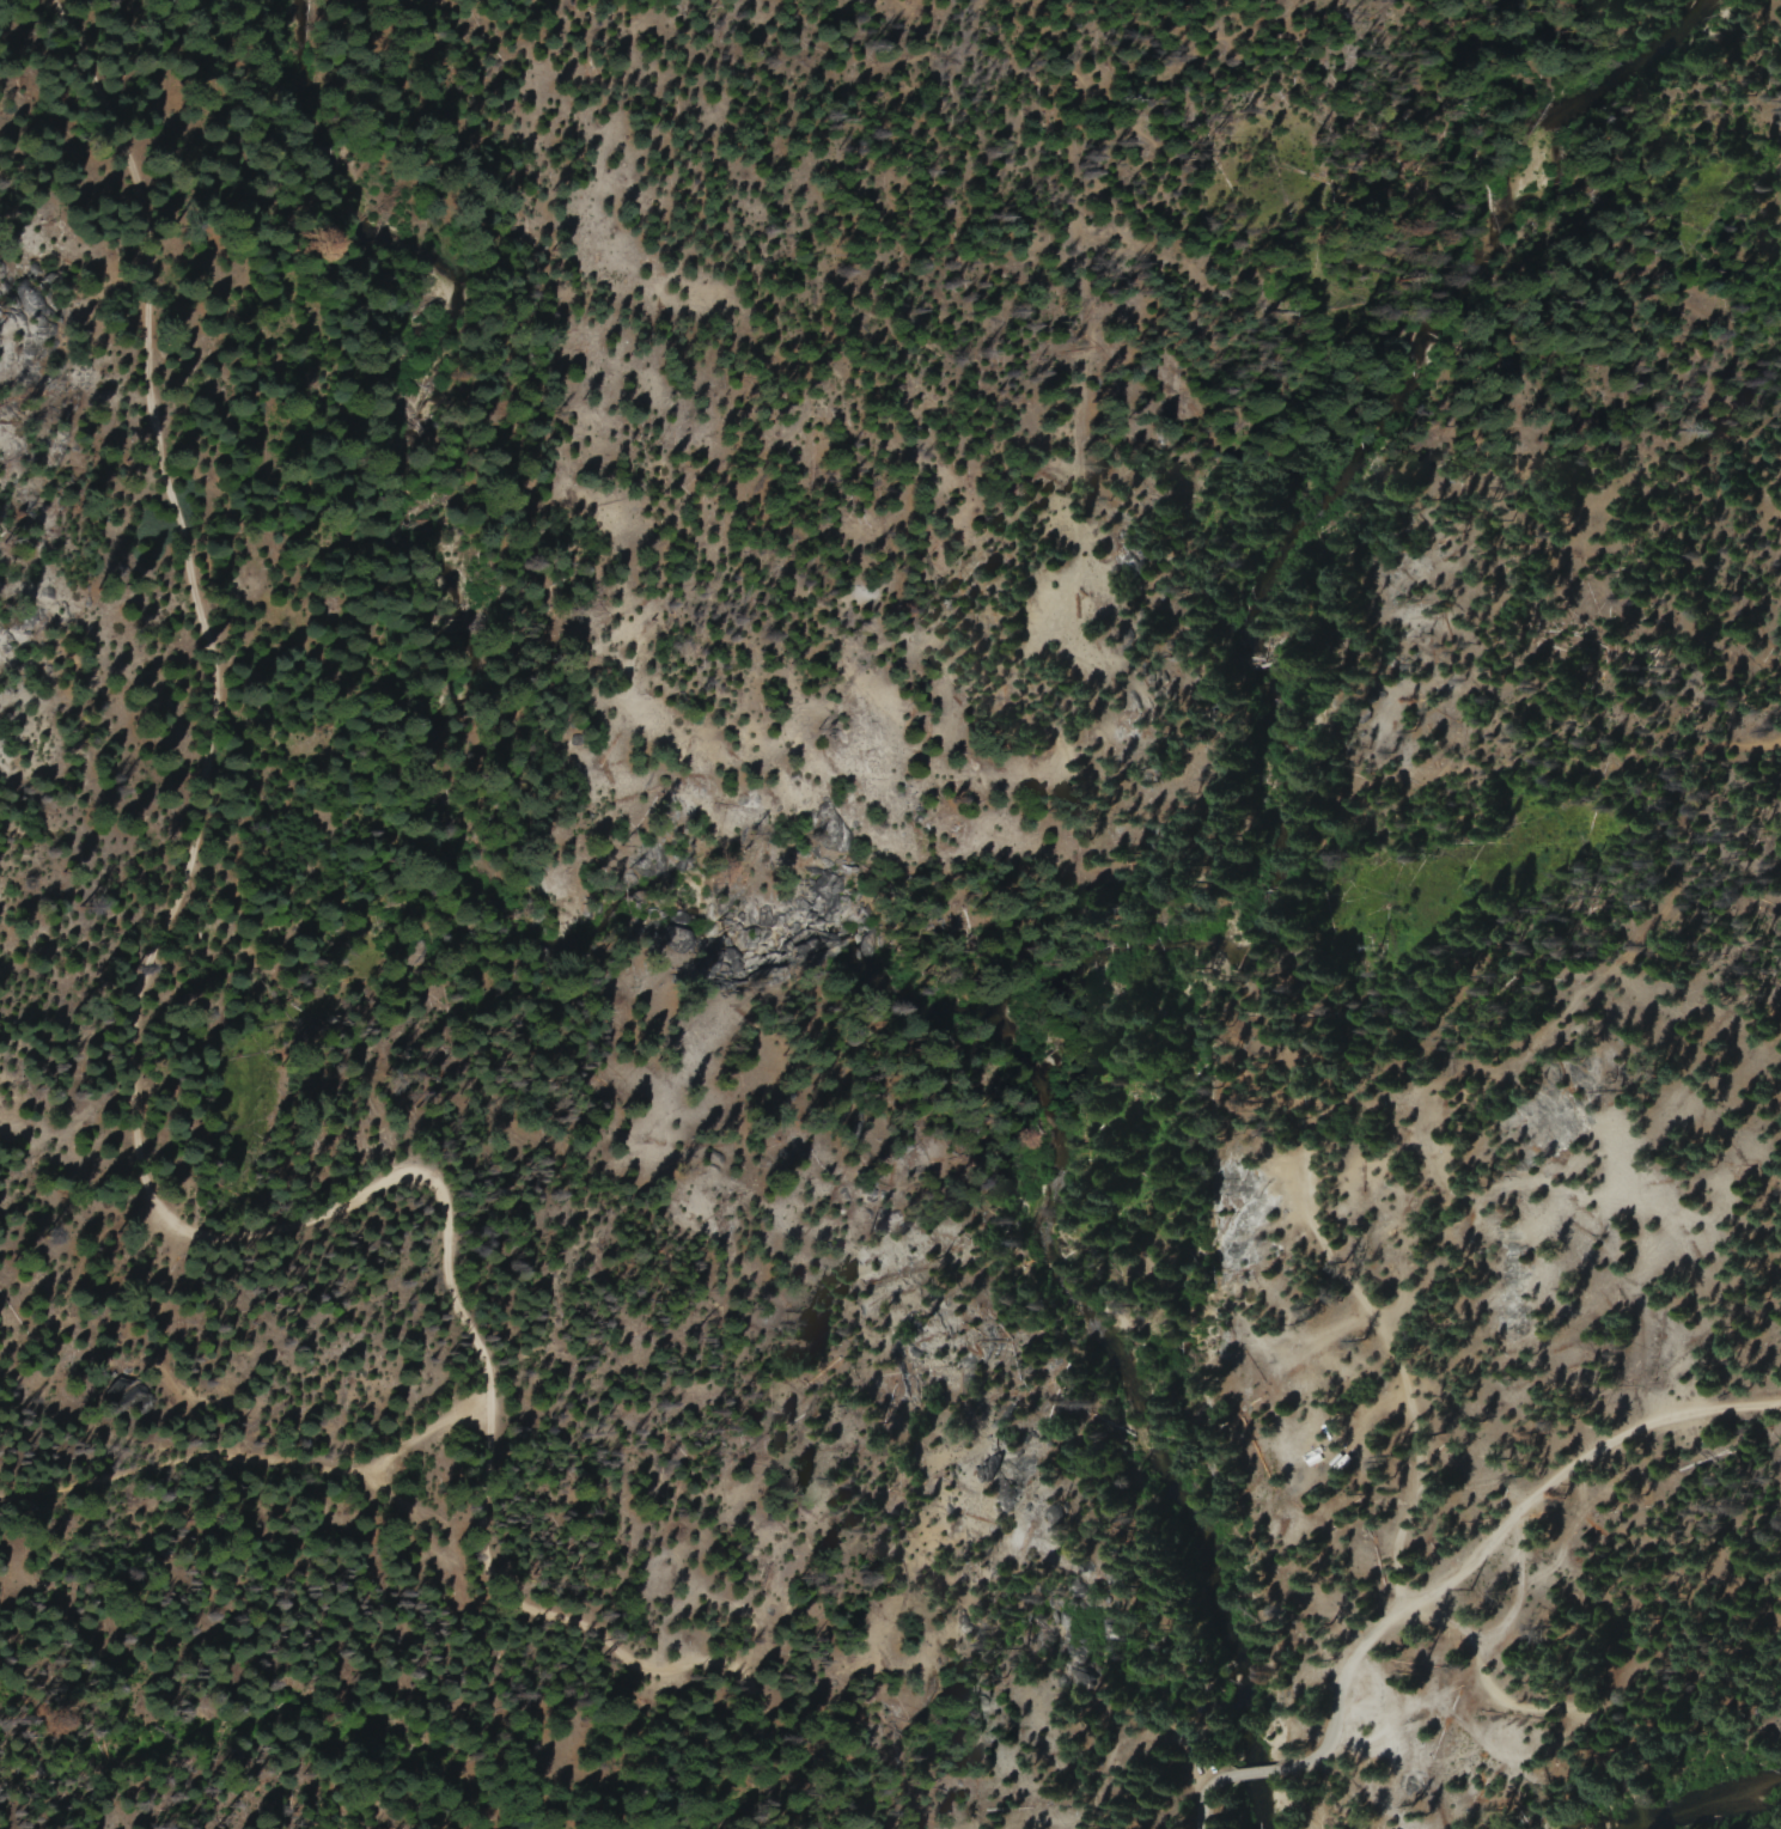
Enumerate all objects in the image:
road: (372, 38)
road: (139, 1170)
road: (1377, 1317)
road: (250, 1463)
road: (1505, 1532)
road: (1262, 1769)
road: (1197, 1800)

